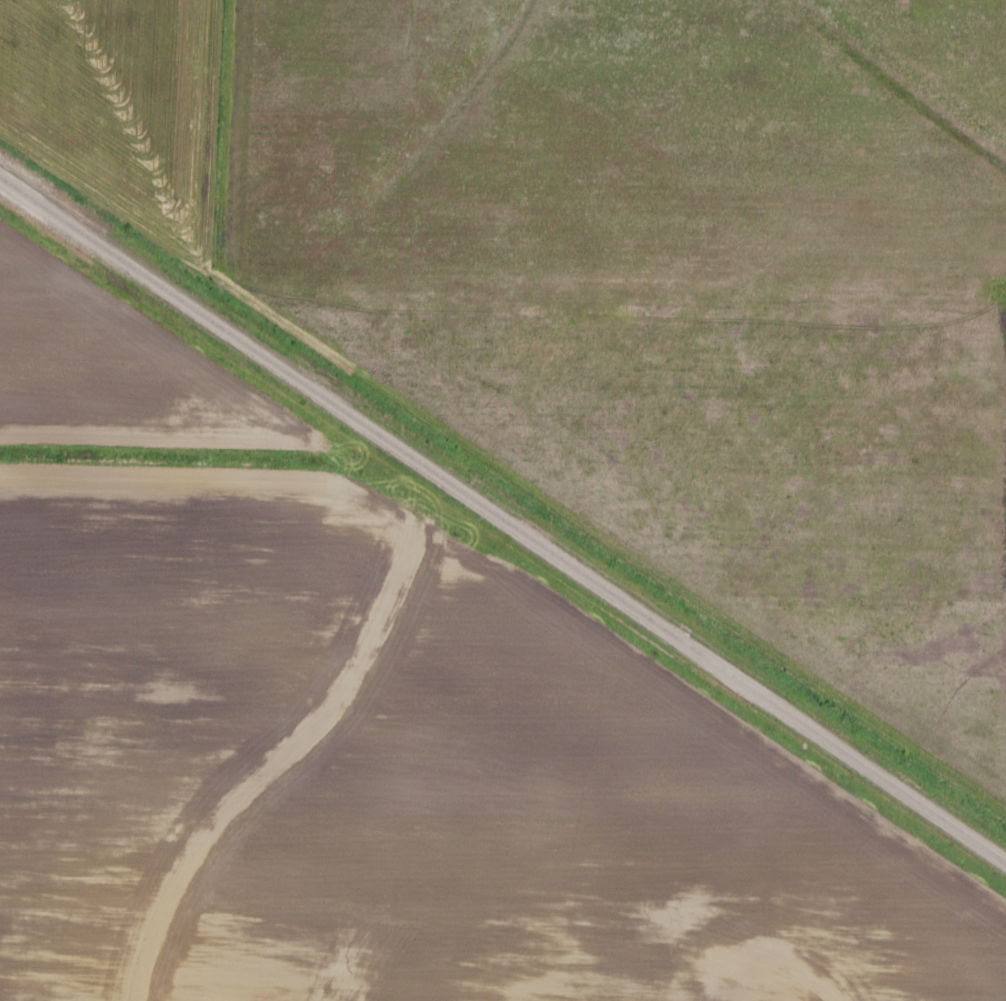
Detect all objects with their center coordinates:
railway: (503, 518)

